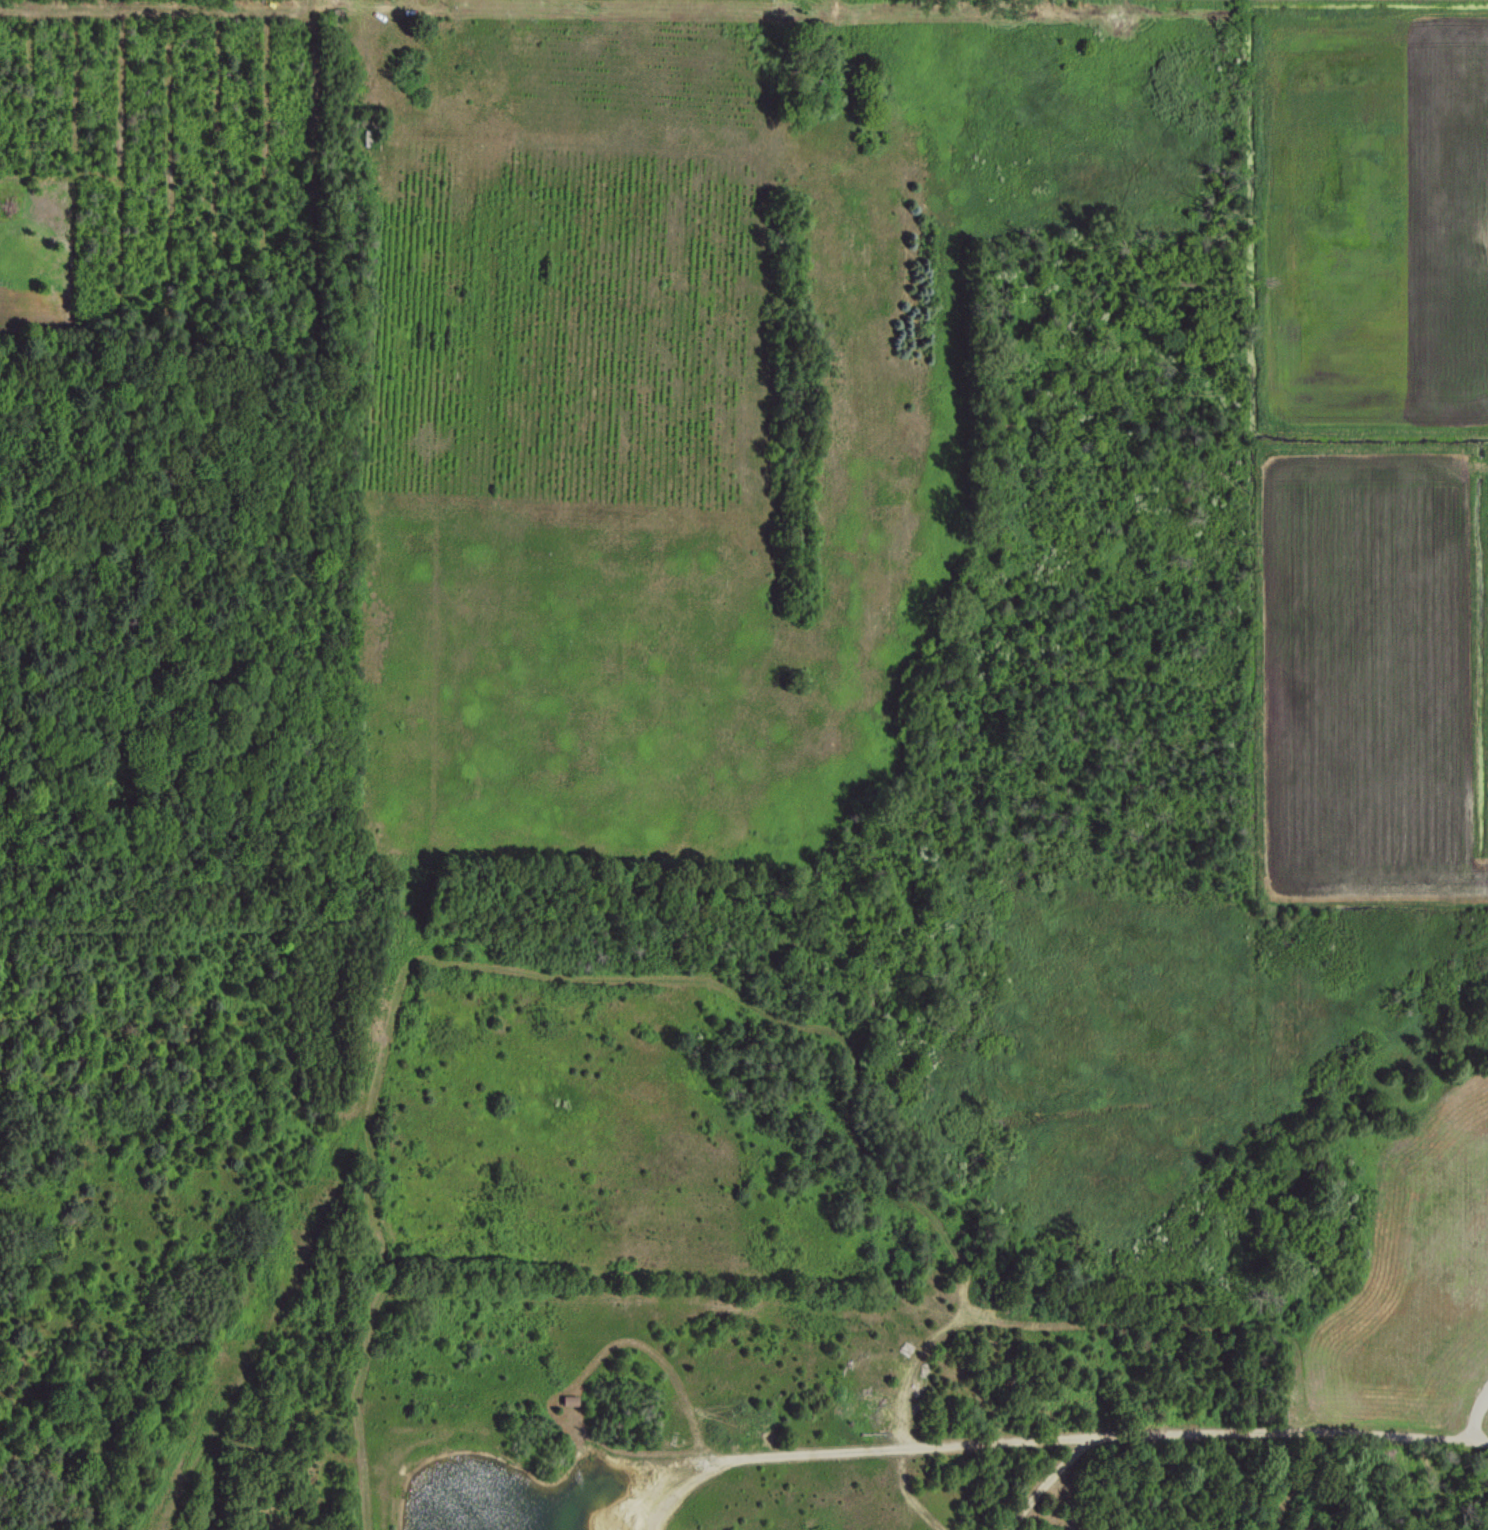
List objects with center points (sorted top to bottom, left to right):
road: (33, 1483)

